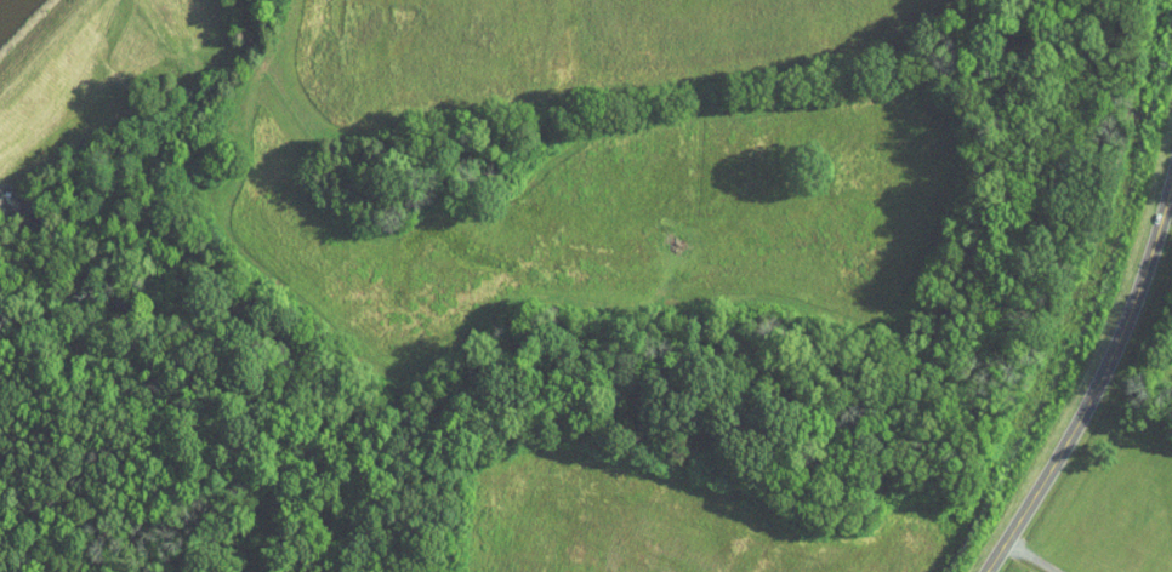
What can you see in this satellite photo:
road: (1098, 384)
road: (1041, 554)

